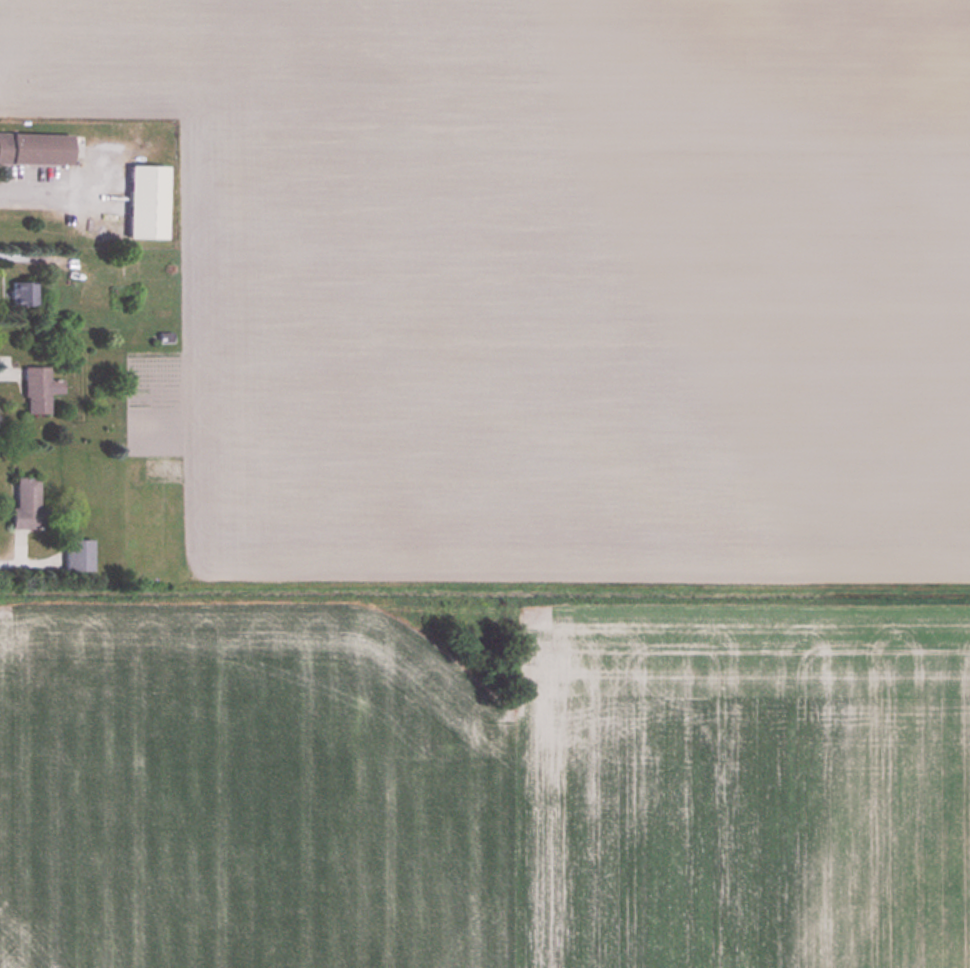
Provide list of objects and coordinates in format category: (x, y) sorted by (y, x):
building: (36, 147)
road: (52, 191)
building: (148, 200)
building: (23, 292)
building: (39, 388)
building: (27, 502)
building: (78, 553)

